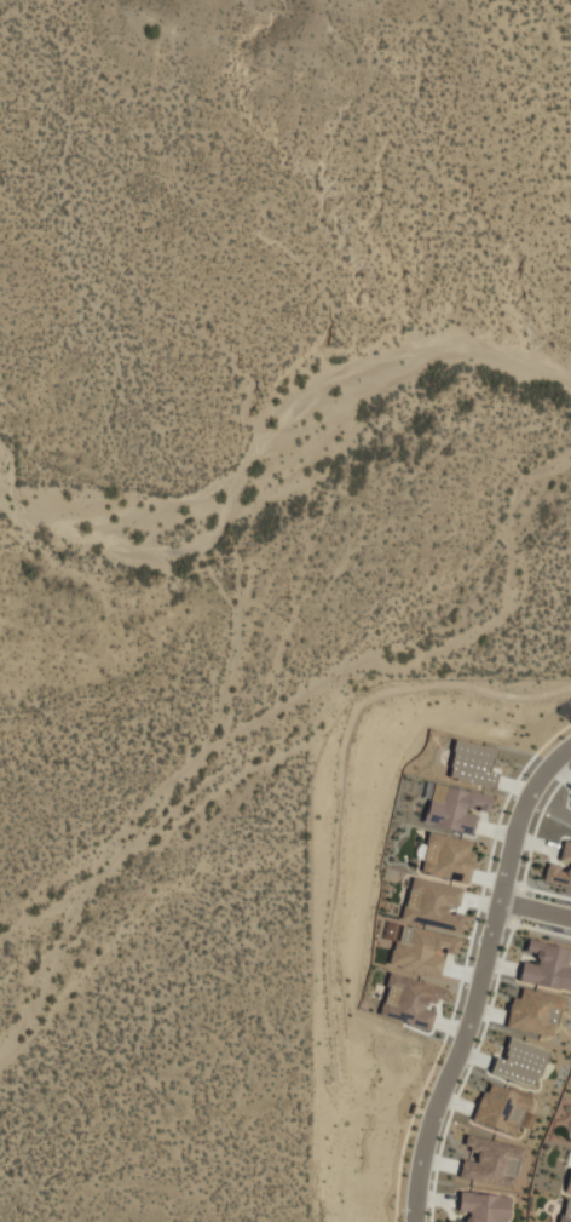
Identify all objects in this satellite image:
building: (471, 764)
building: (570, 796)
building: (454, 808)
building: (448, 857)
building: (560, 868)
road: (537, 910)
building: (427, 926)
building: (547, 965)
road: (484, 981)
building: (409, 1000)
building: (533, 1011)
building: (520, 1062)
building: (490, 1159)
building: (569, 1172)
building: (565, 1211)

